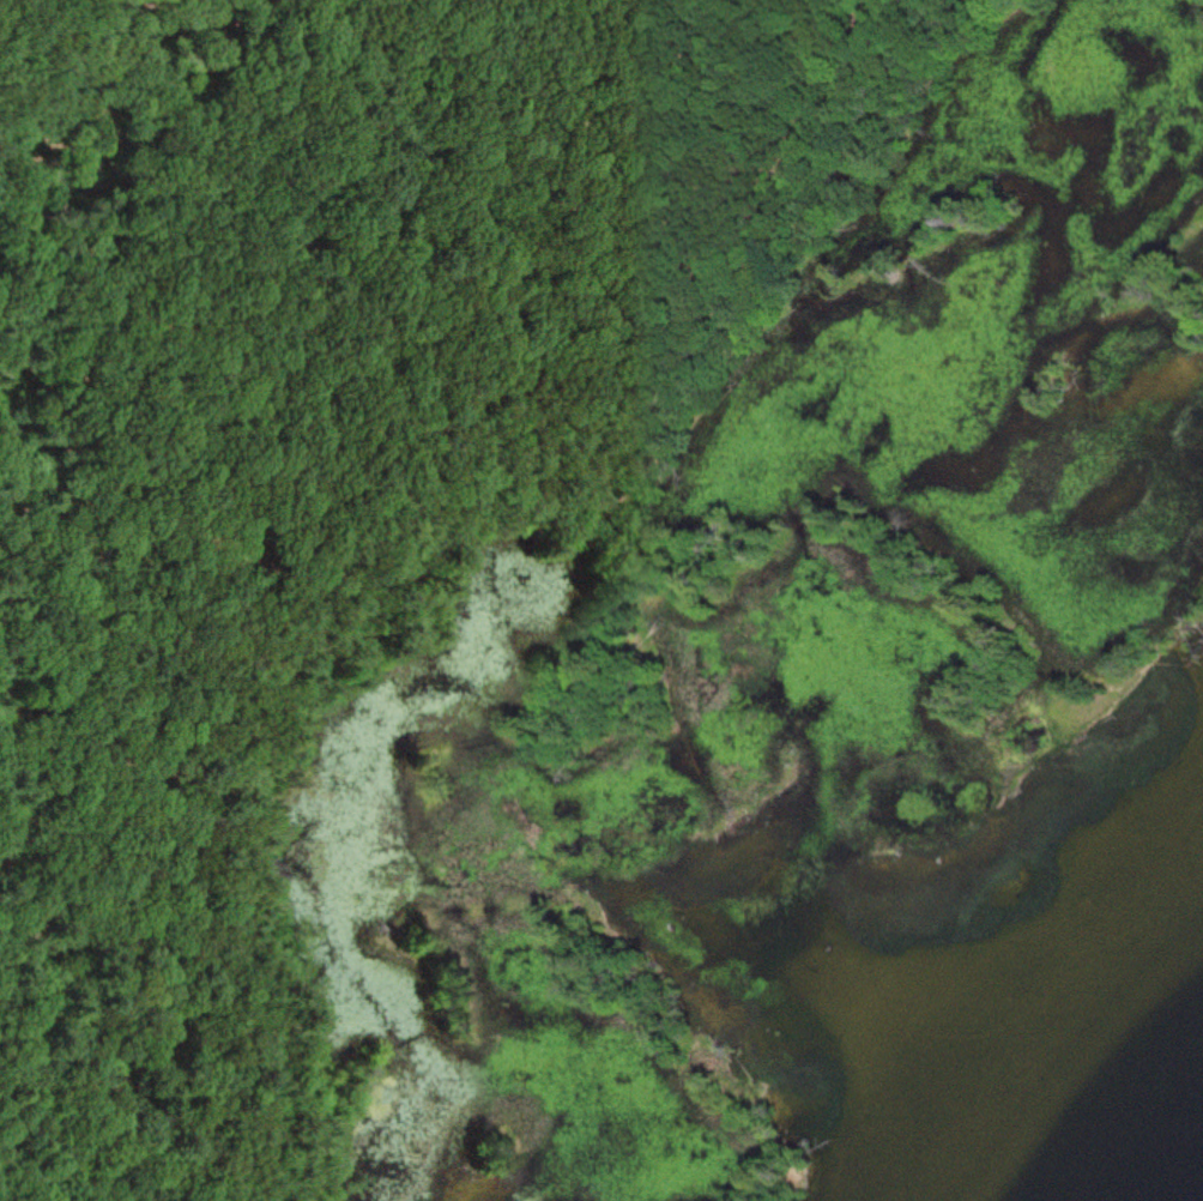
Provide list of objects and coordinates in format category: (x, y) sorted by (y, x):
road: (8, 8)
road: (494, 530)
park: (555, 556)

